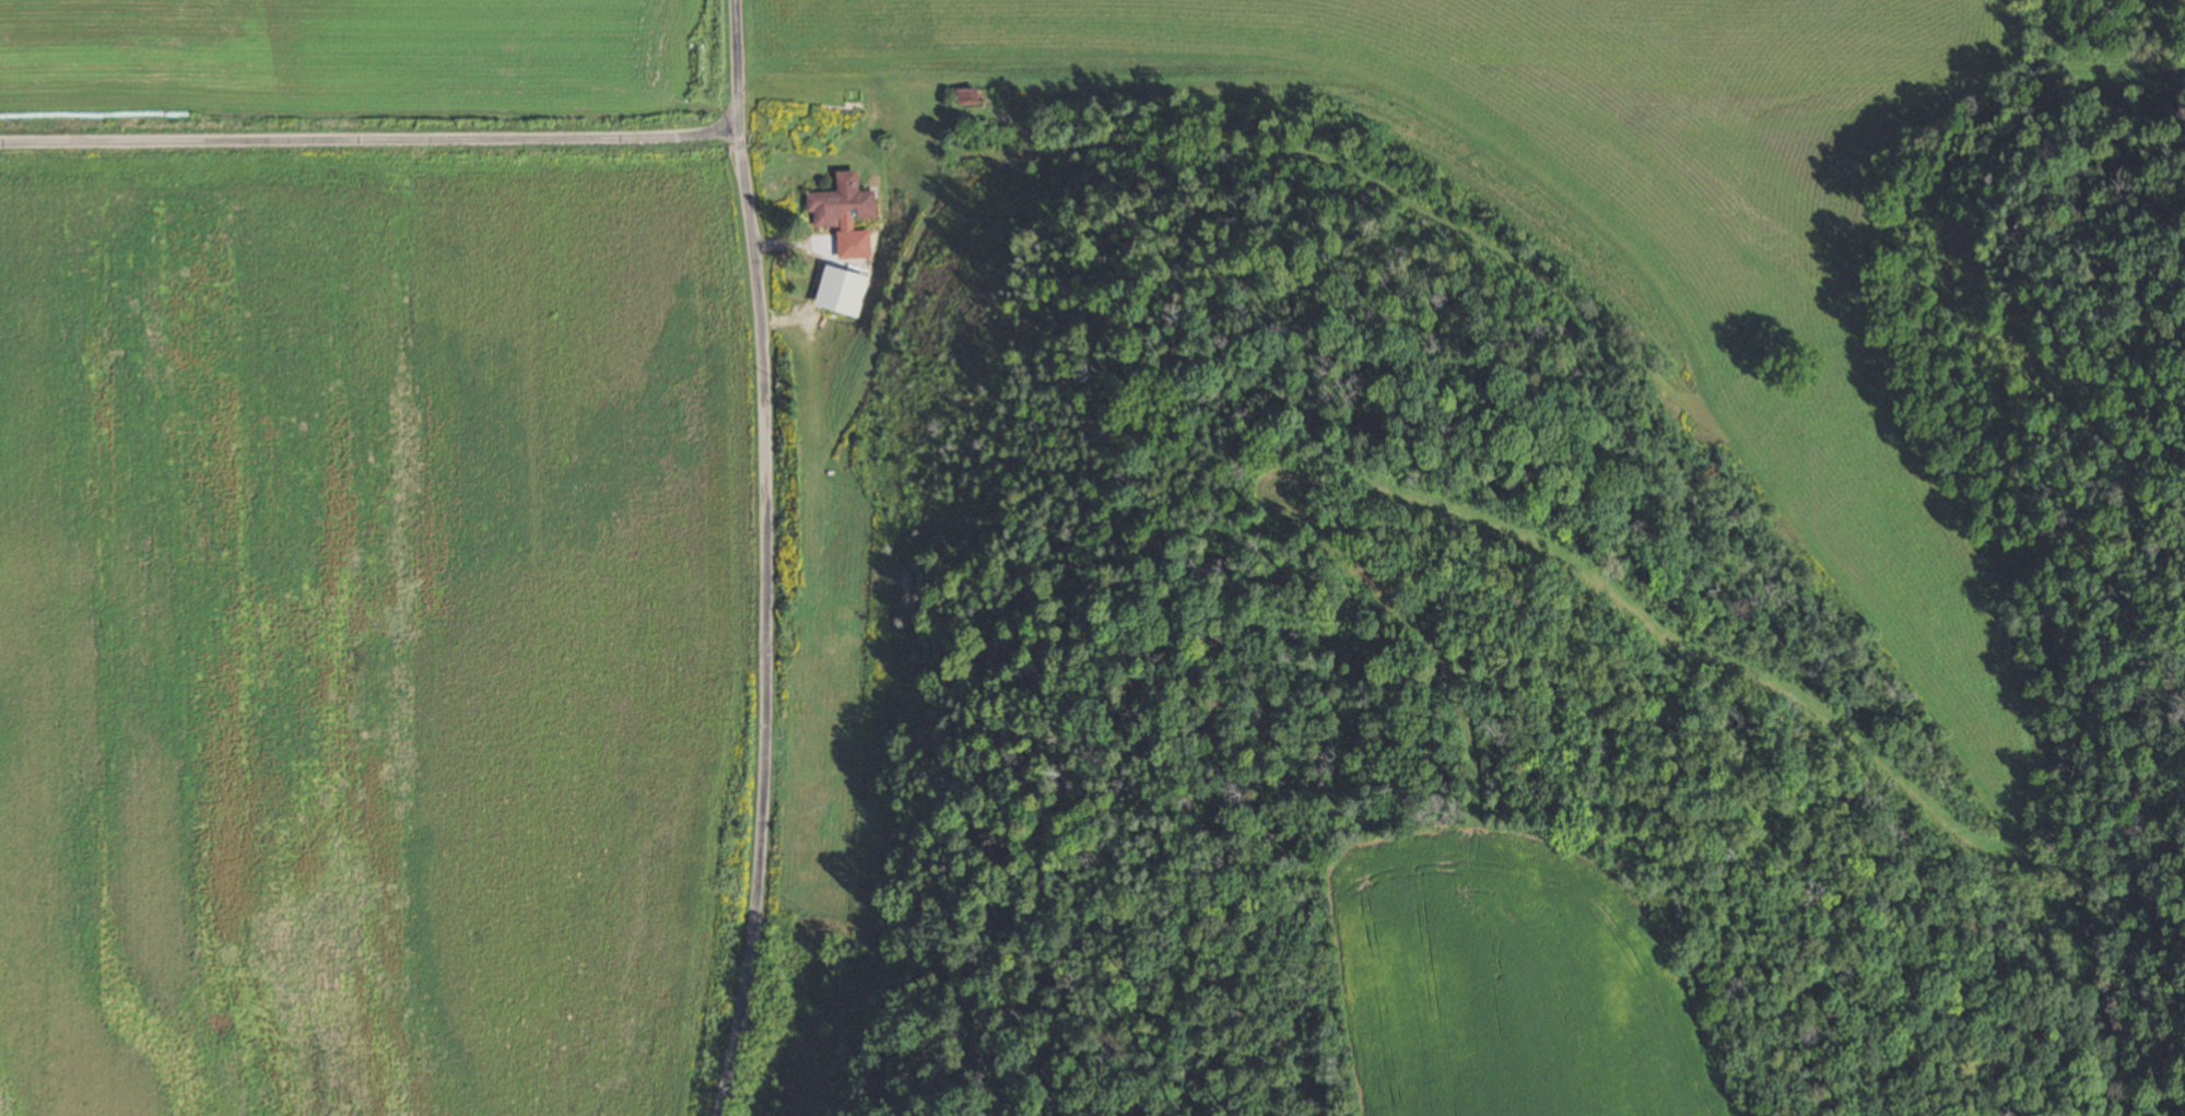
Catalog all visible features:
building: (964, 98)
road: (368, 139)
building: (845, 203)
road: (771, 559)

